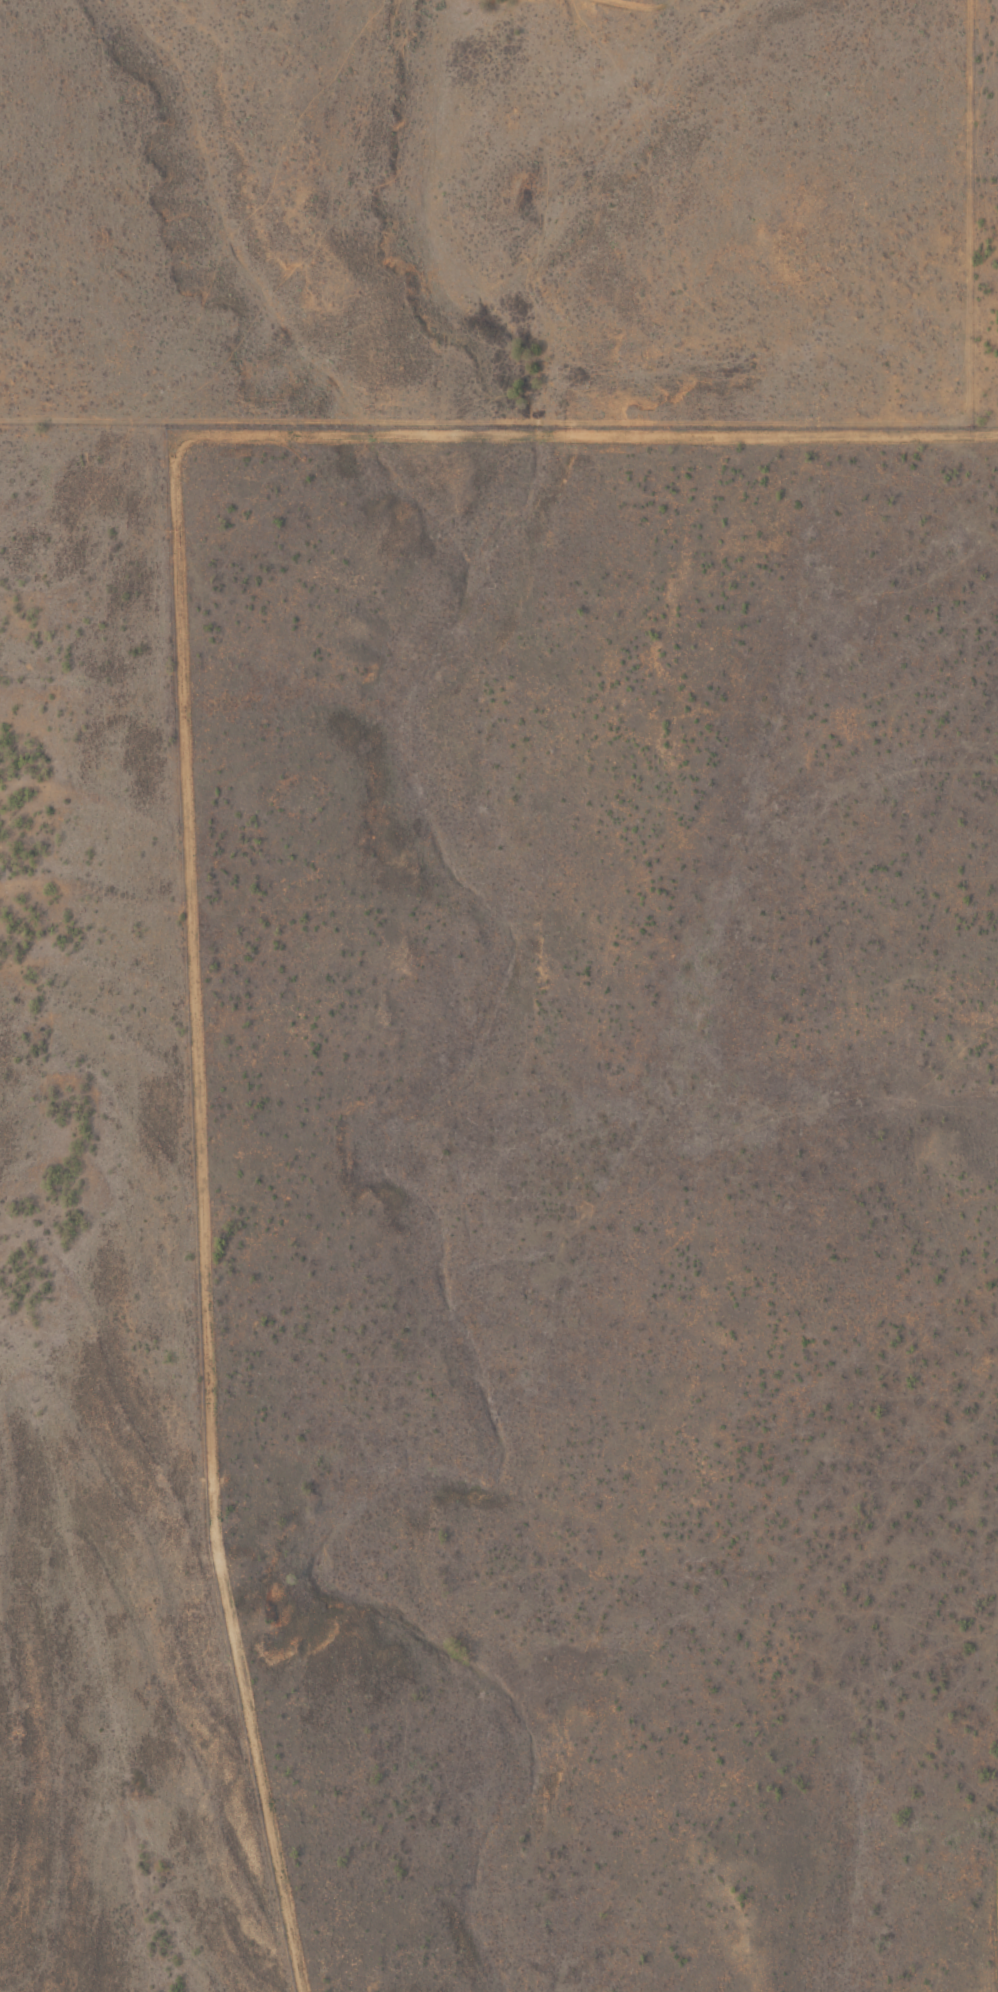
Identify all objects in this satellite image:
road: (996, 1915)

